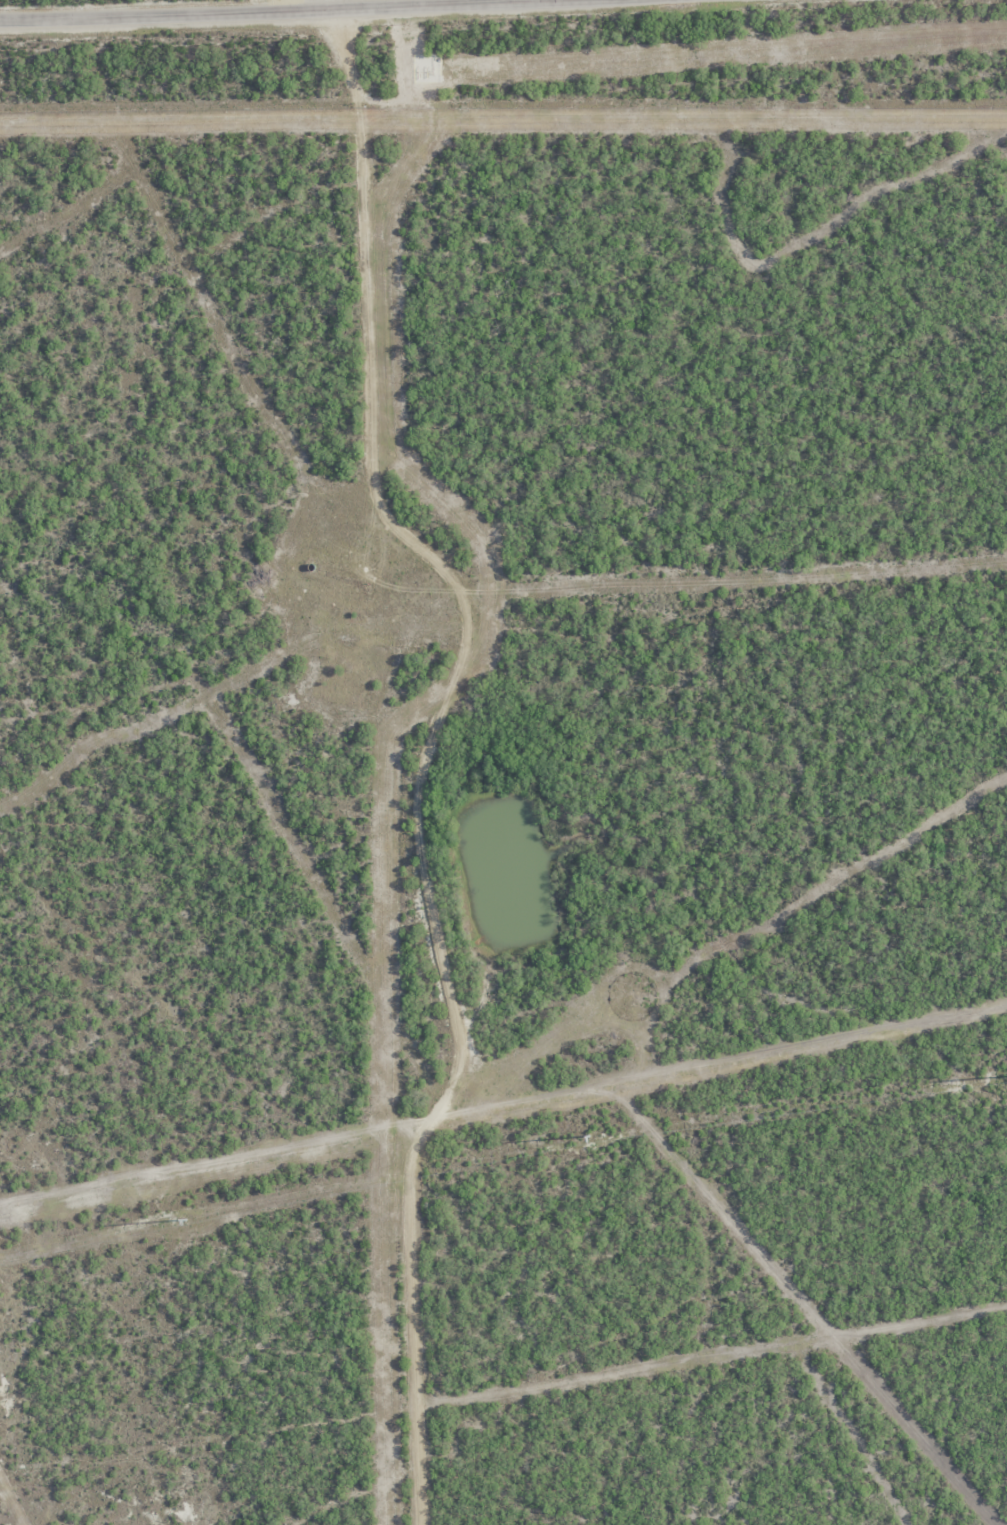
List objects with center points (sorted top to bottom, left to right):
road: (296, 13)
power tower: (592, 1135)
power tower: (189, 1218)

